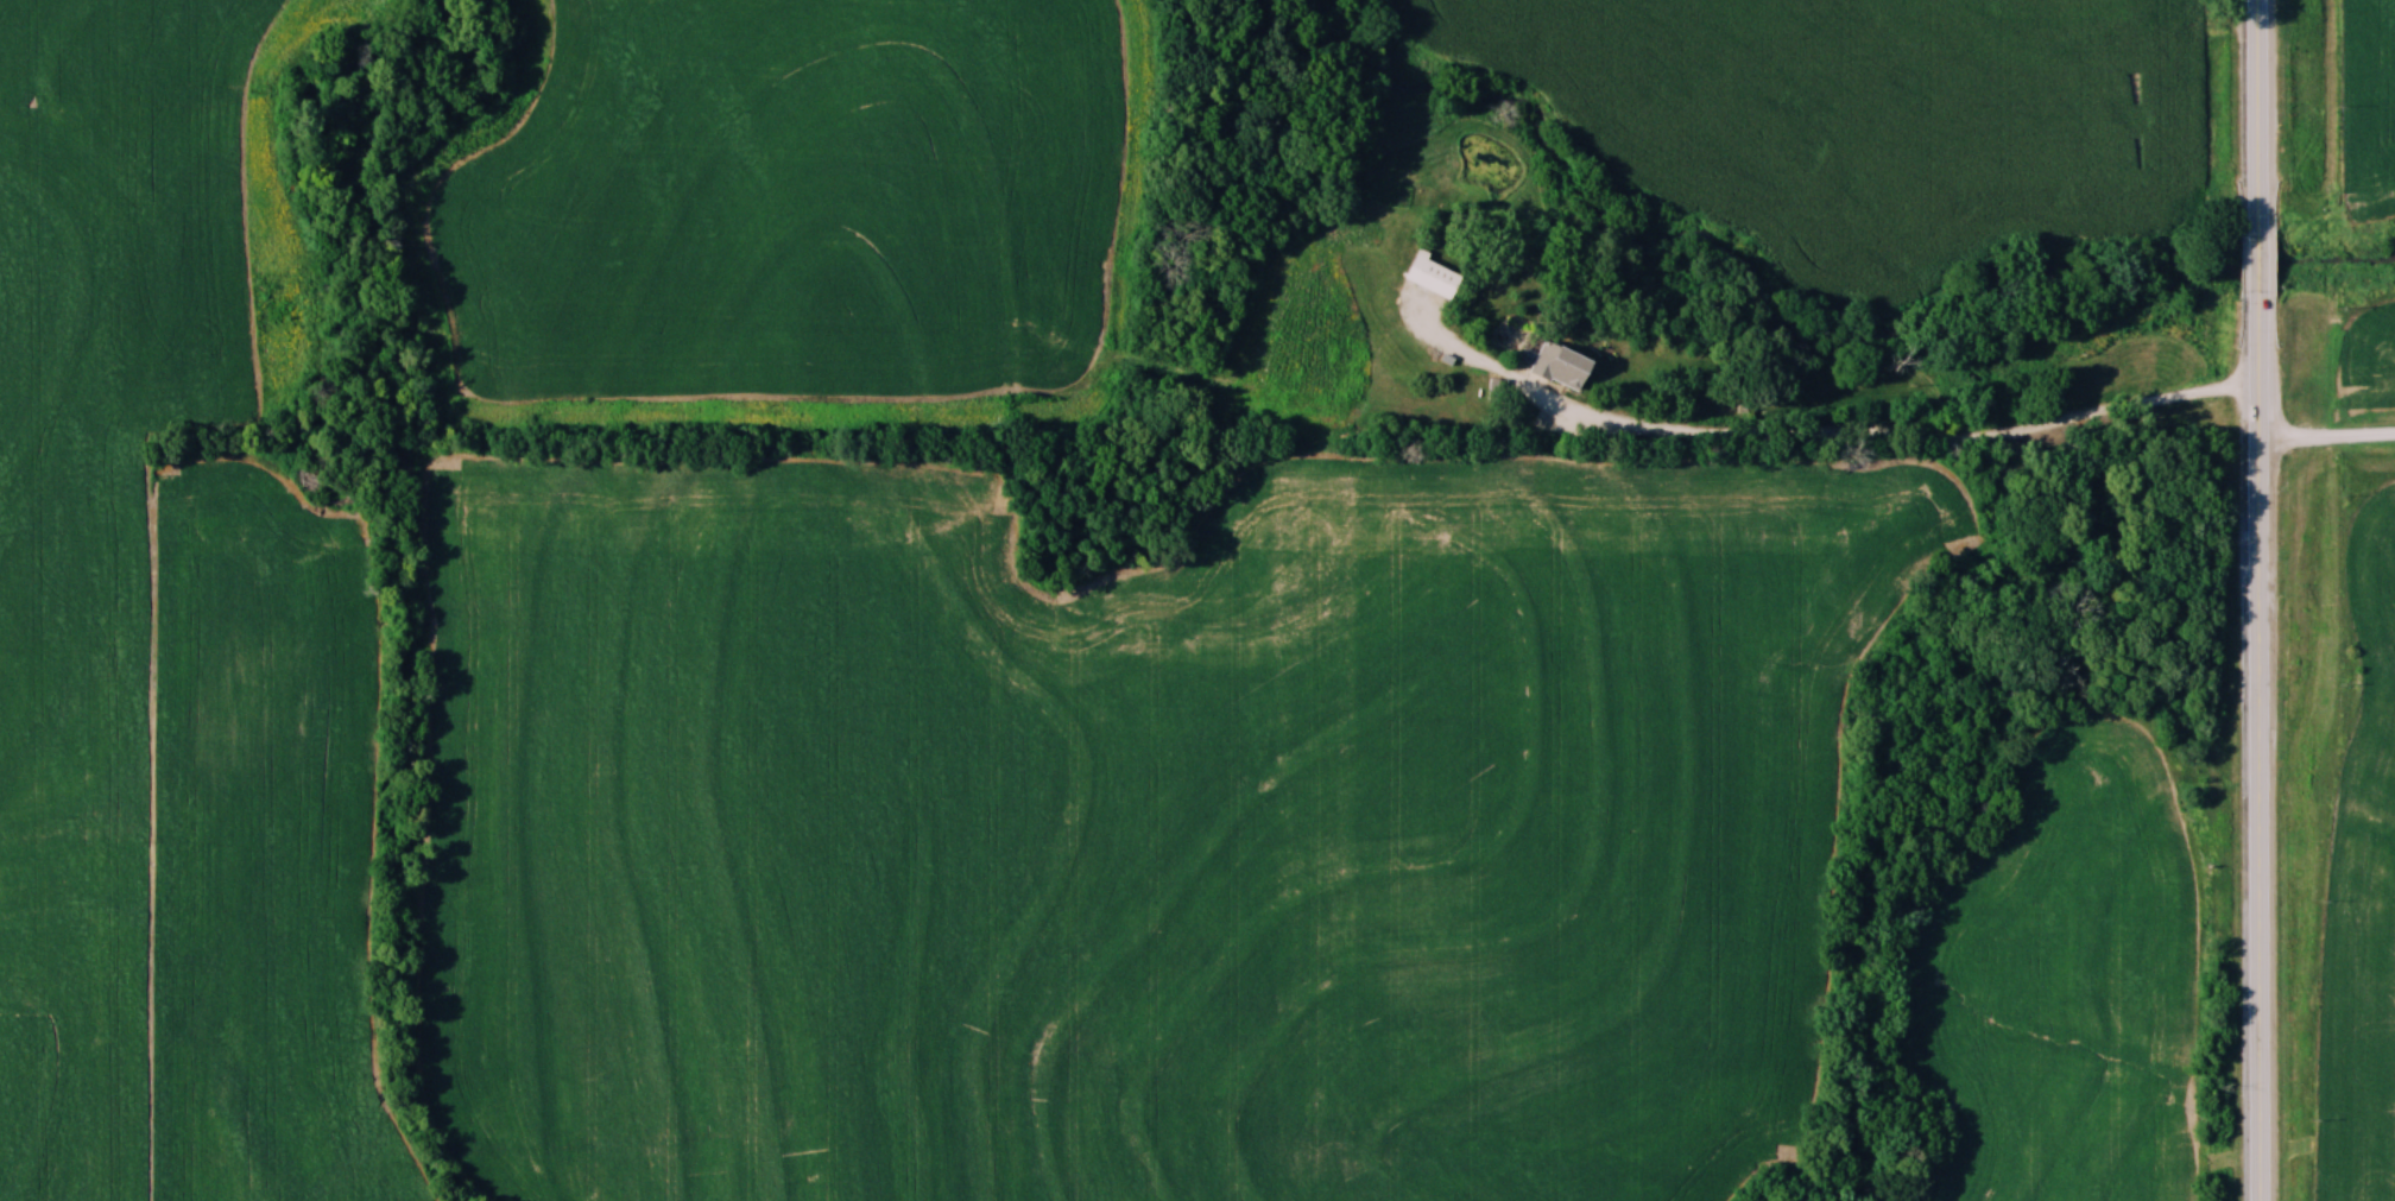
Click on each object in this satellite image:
building: (1439, 265)
building: (1560, 367)
road: (1879, 436)
road: (2324, 437)
road: (2254, 600)

